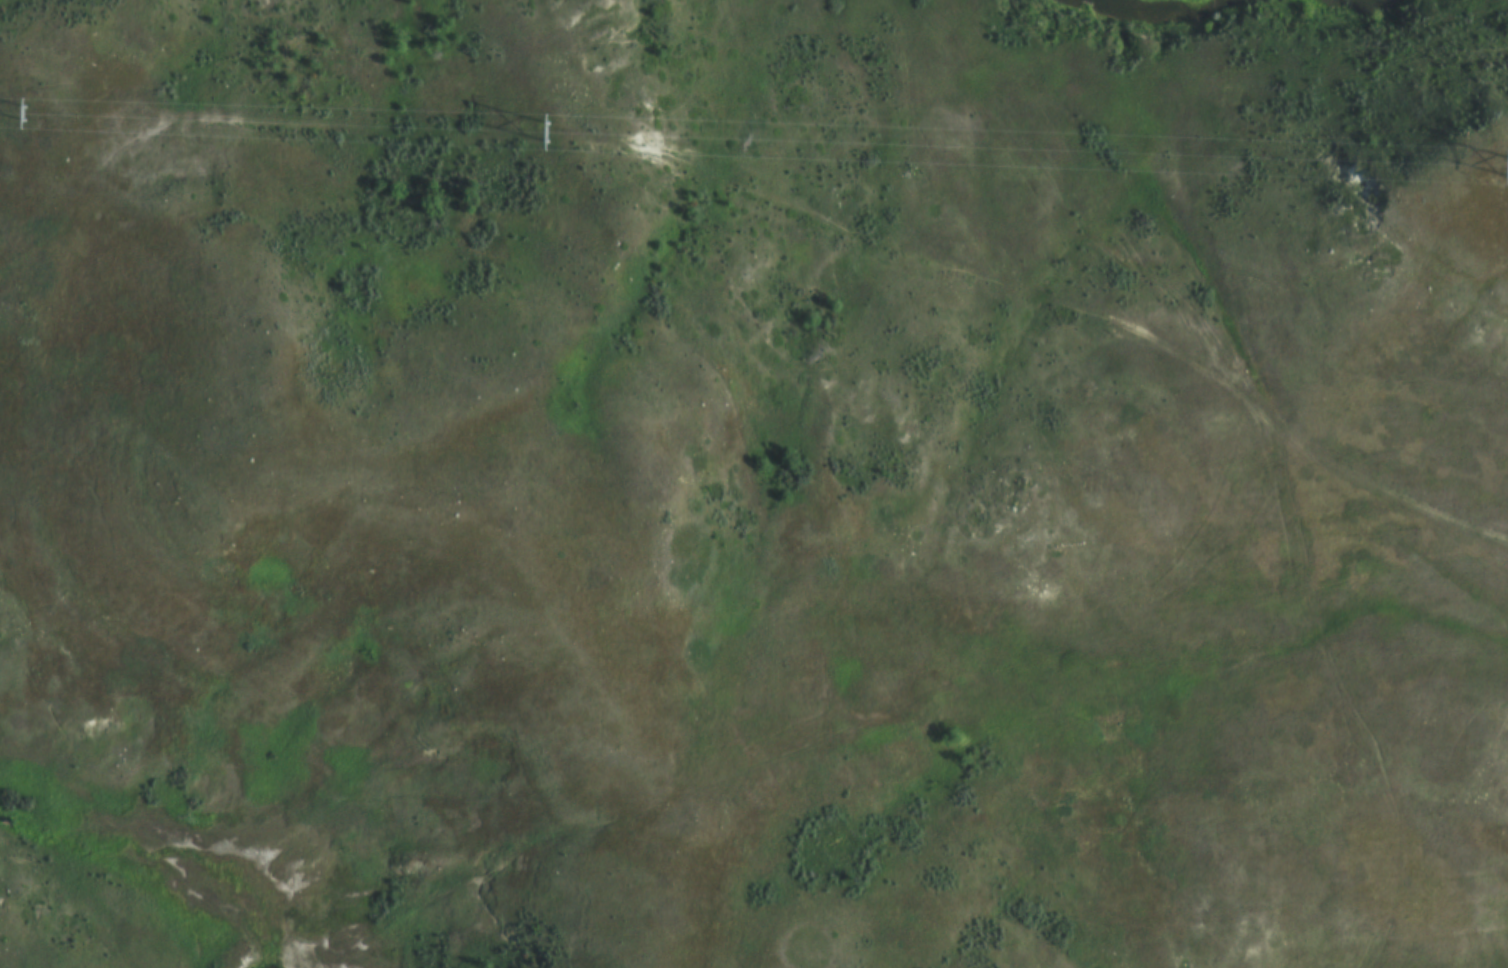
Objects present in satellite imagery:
power tower: (27, 121)
power tower: (543, 137)
power tower: (1507, 169)

